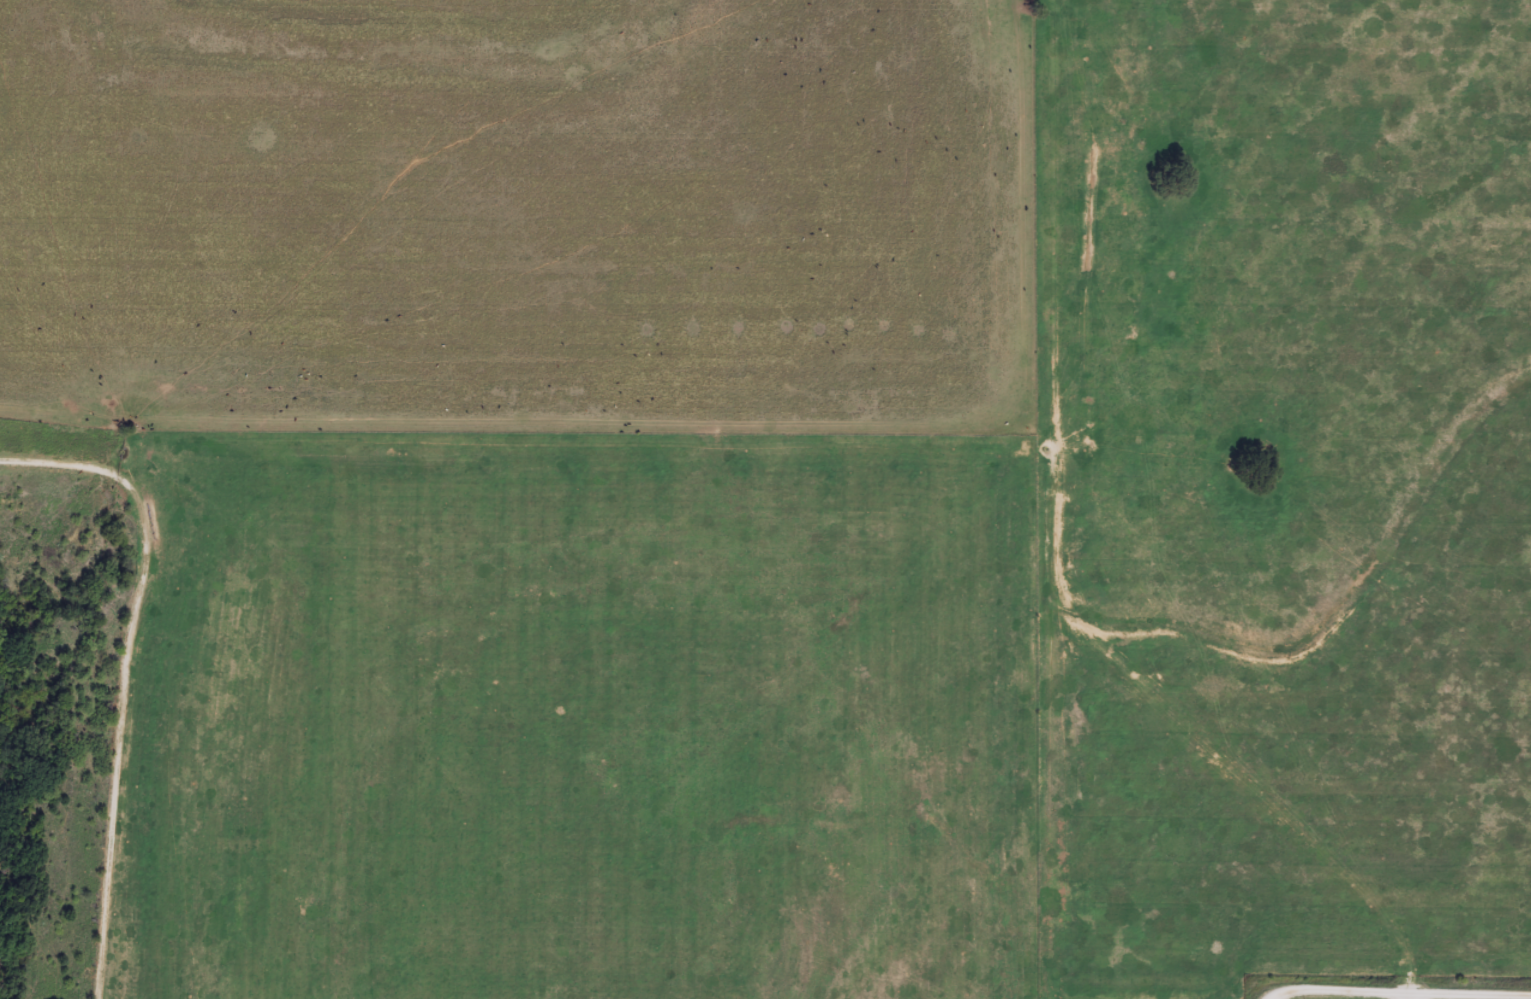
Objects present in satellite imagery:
road: (132, 727)
road: (1436, 993)

